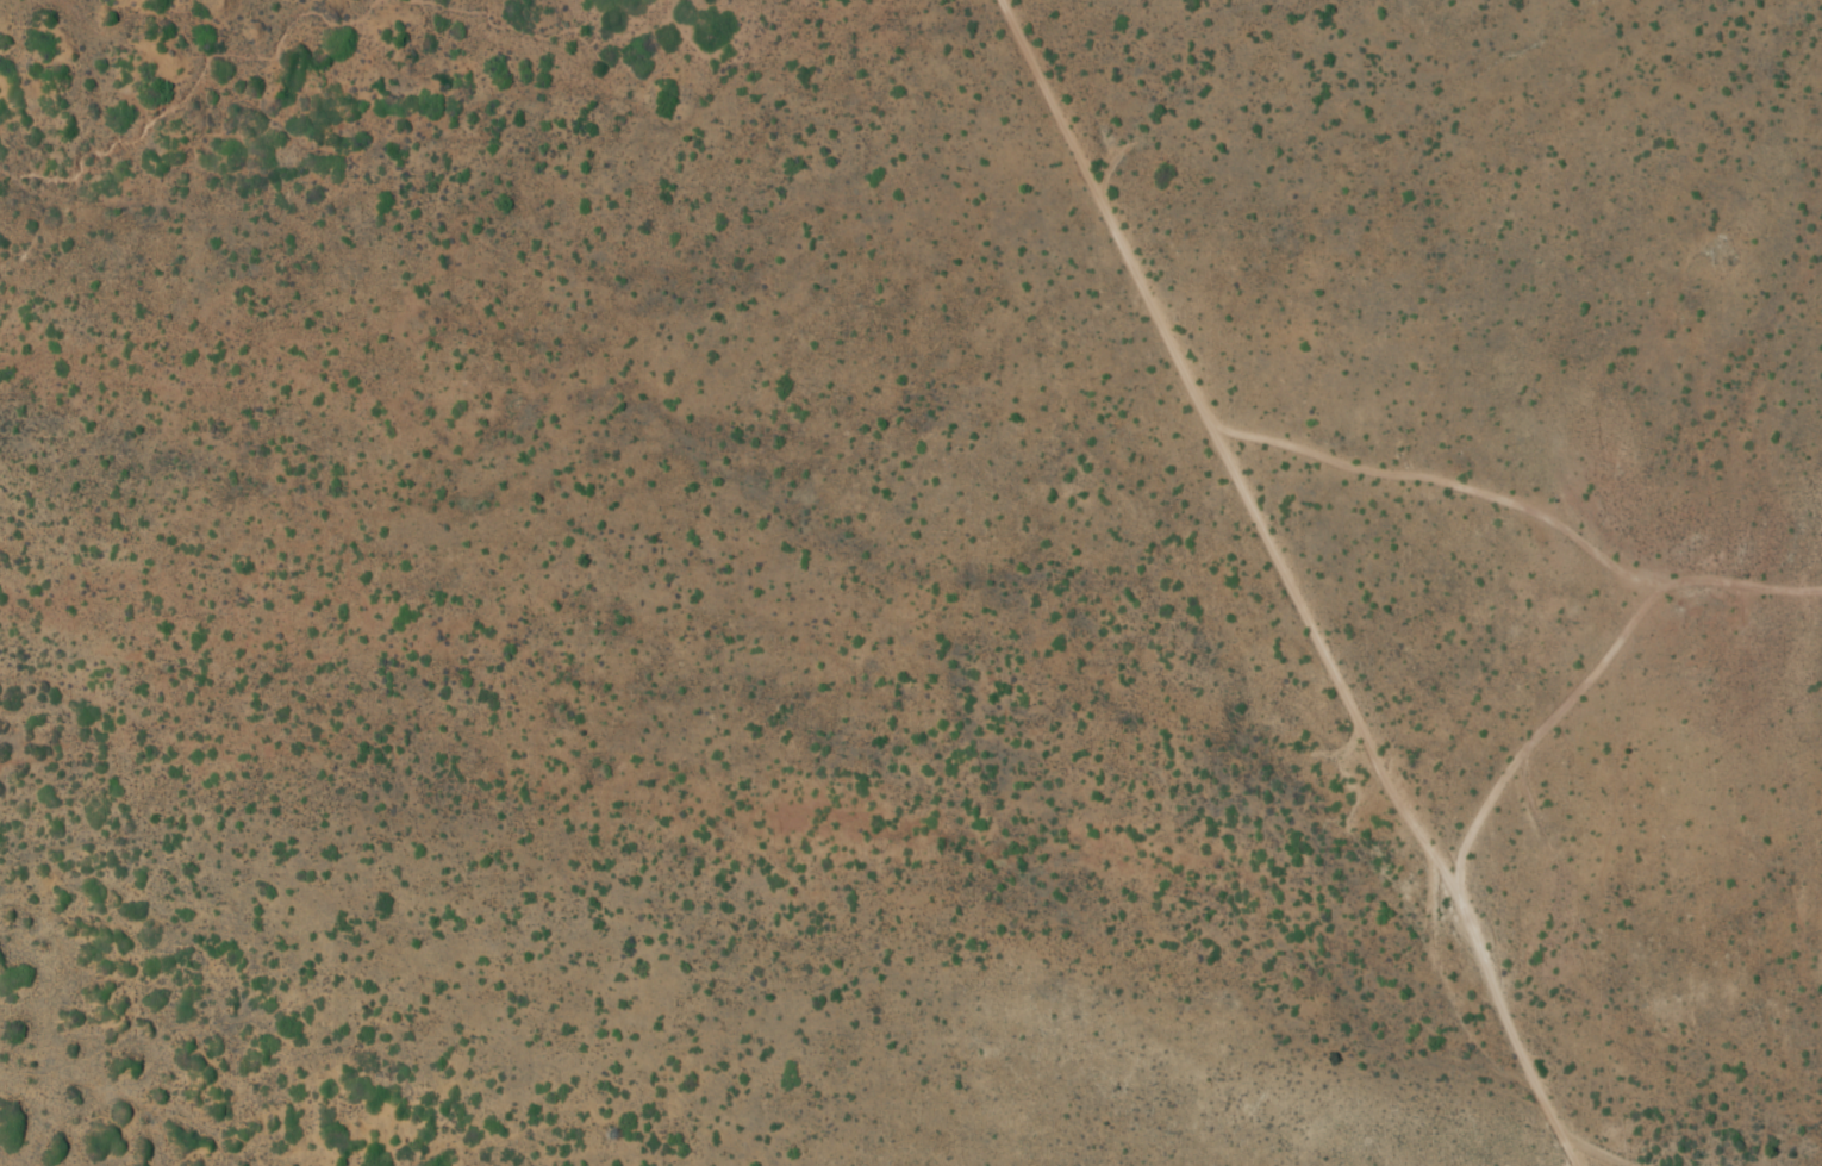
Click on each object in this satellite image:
road: (1311, 435)
road: (1540, 694)
road: (1419, 797)

